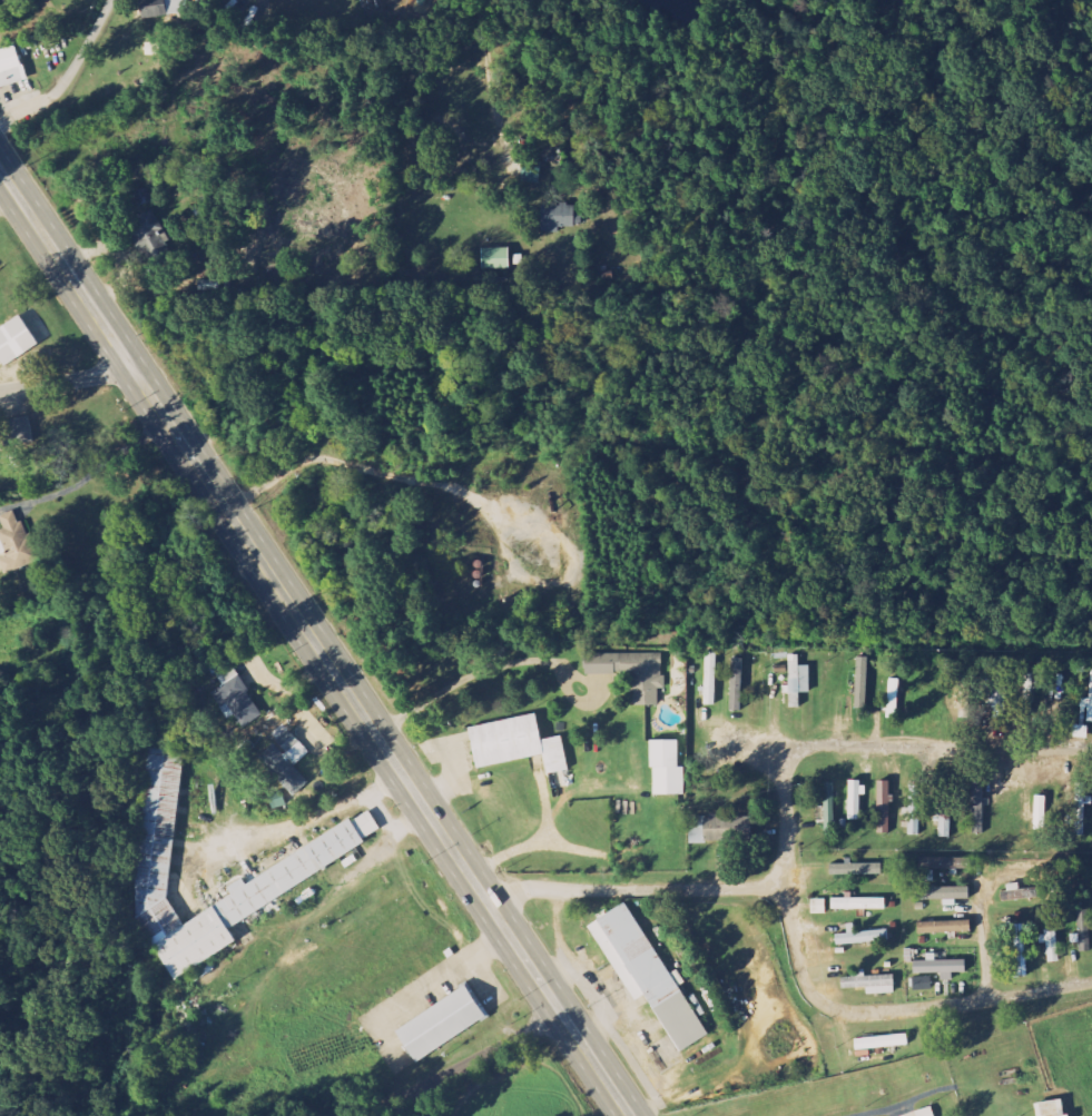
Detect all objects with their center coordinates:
building: (164, 9)
building: (10, 68)
road: (69, 73)
road: (494, 86)
building: (531, 172)
building: (557, 218)
building: (148, 236)
building: (495, 259)
building: (14, 342)
road: (68, 378)
building: (19, 432)
building: (16, 545)
road: (314, 641)
building: (631, 672)
building: (710, 679)
building: (798, 681)
building: (860, 683)
building: (736, 684)
building: (1030, 694)
building: (236, 697)
building: (1000, 701)
building: (1088, 705)
building: (514, 744)
road: (873, 747)
building: (285, 761)
building: (666, 768)
road: (453, 781)
building: (856, 799)
building: (884, 808)
building: (914, 808)
building: (977, 808)
building: (1080, 809)
building: (829, 810)
building: (945, 811)
building: (715, 830)
building: (316, 858)
building: (932, 862)
building: (857, 869)
building: (943, 893)
building: (858, 903)
building: (818, 907)
building: (944, 927)
building: (1083, 932)
building: (862, 936)
road: (791, 940)
building: (1051, 942)
building: (1020, 950)
road: (983, 951)
building: (939, 967)
building: (646, 974)
building: (869, 982)
building: (922, 984)
building: (440, 1024)
building: (882, 1043)
road: (469, 1065)
building: (1050, 1108)
building: (925, 1113)

